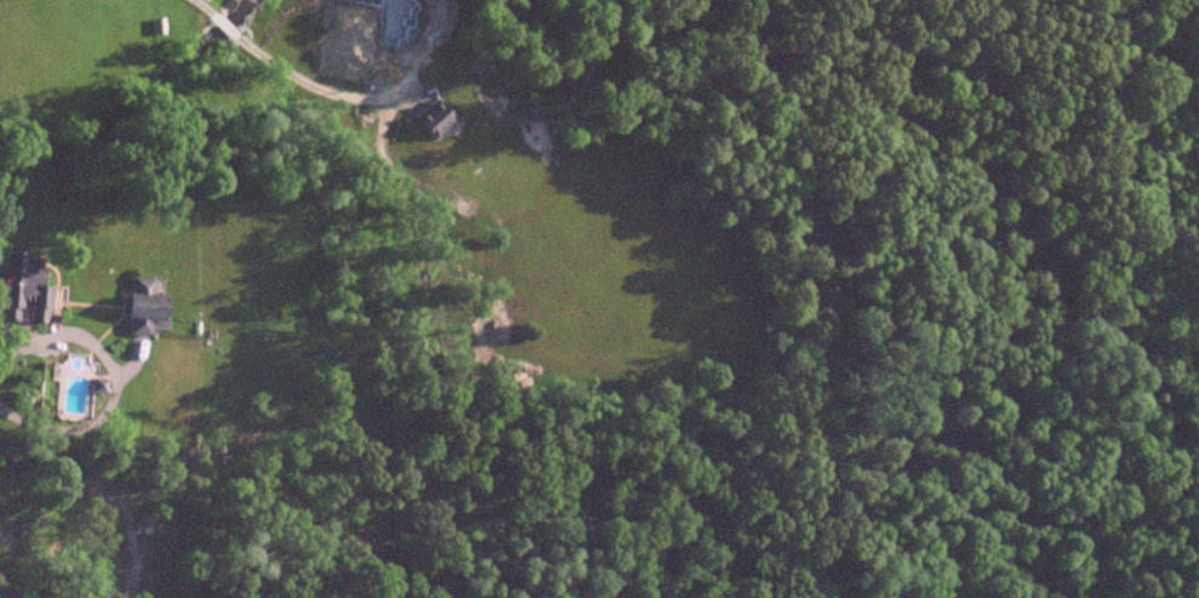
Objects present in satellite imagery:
building: (392, 17)
road: (259, 89)
building: (433, 121)
building: (22, 289)
building: (142, 306)
road: (112, 381)
building: (142, 526)

